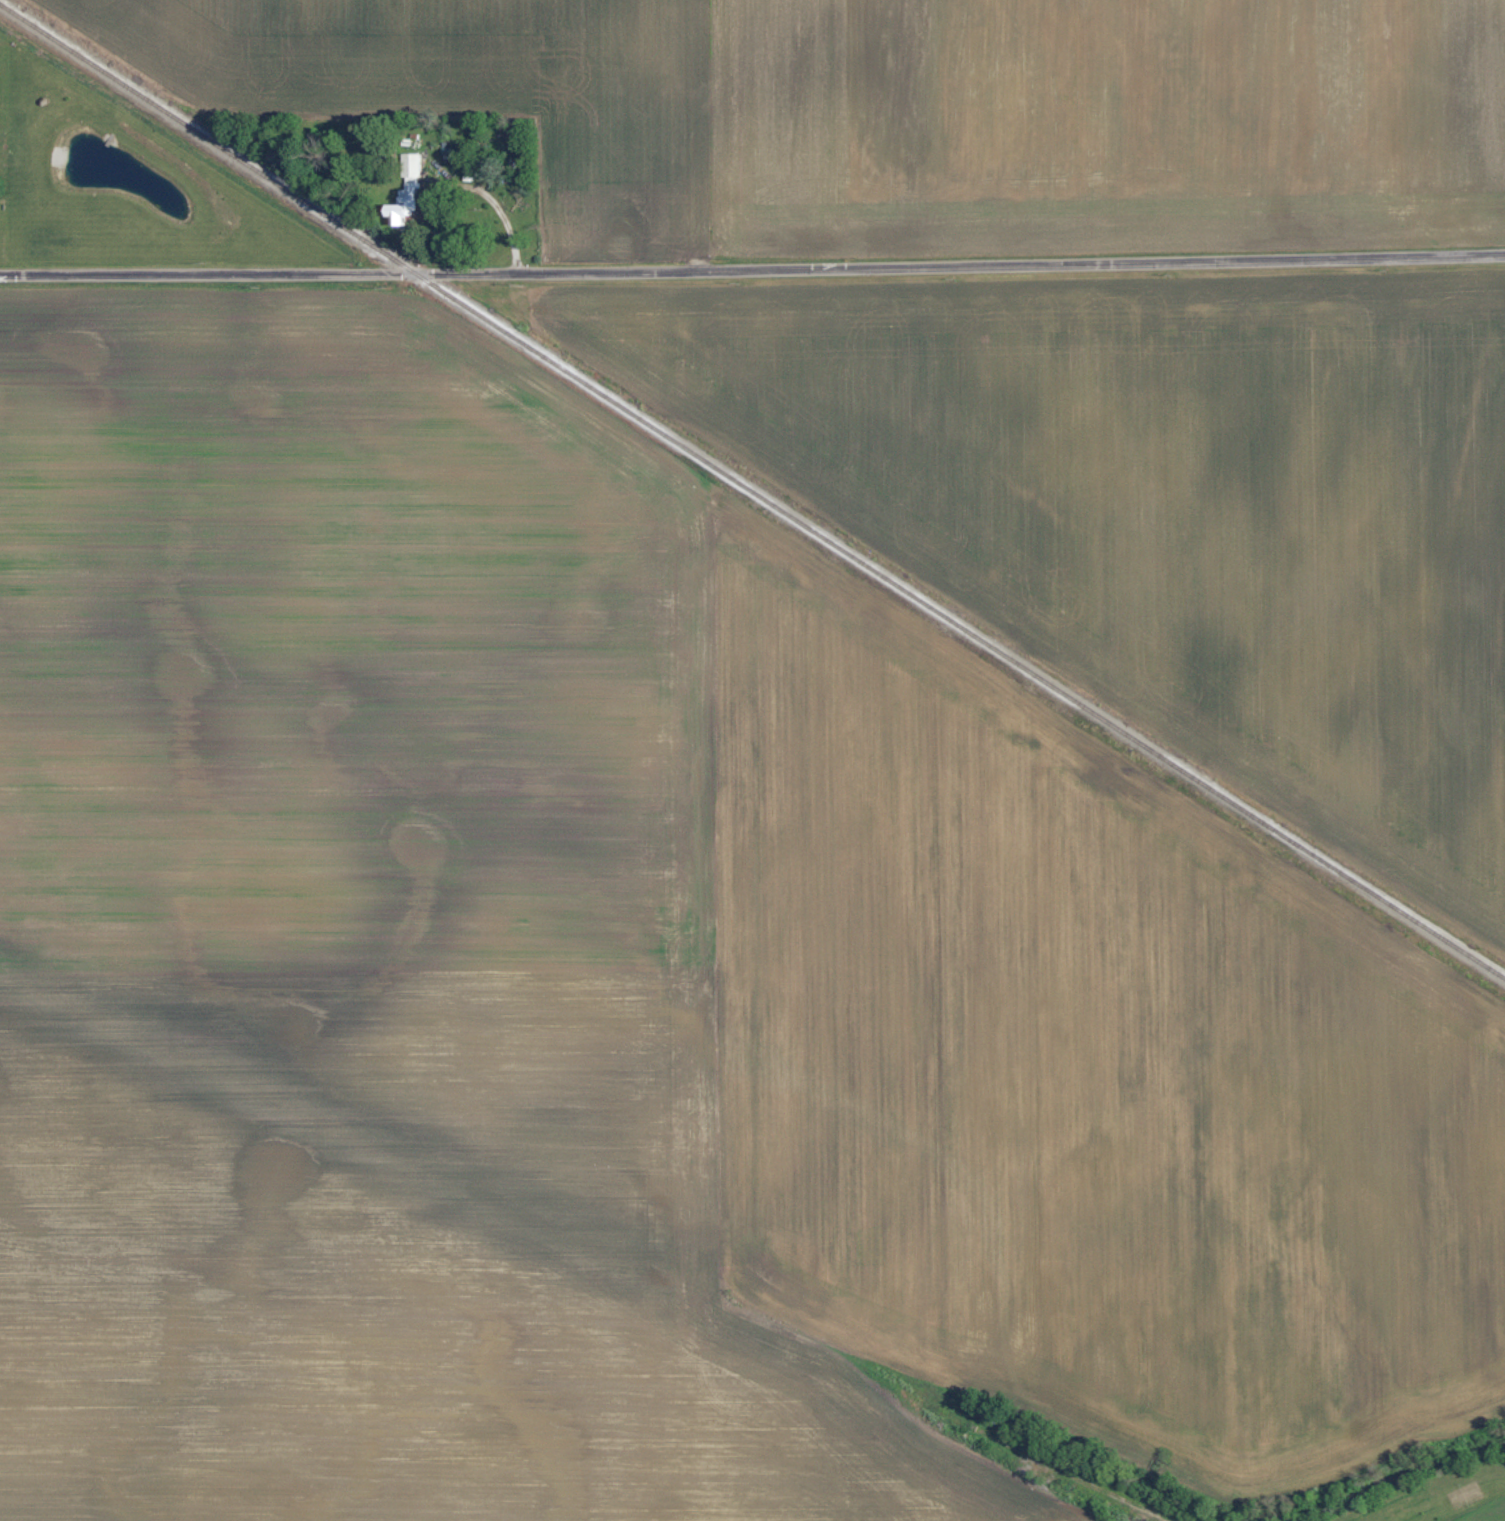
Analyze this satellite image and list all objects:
building: (414, 164)
building: (404, 213)
road: (752, 266)
railway: (752, 491)

